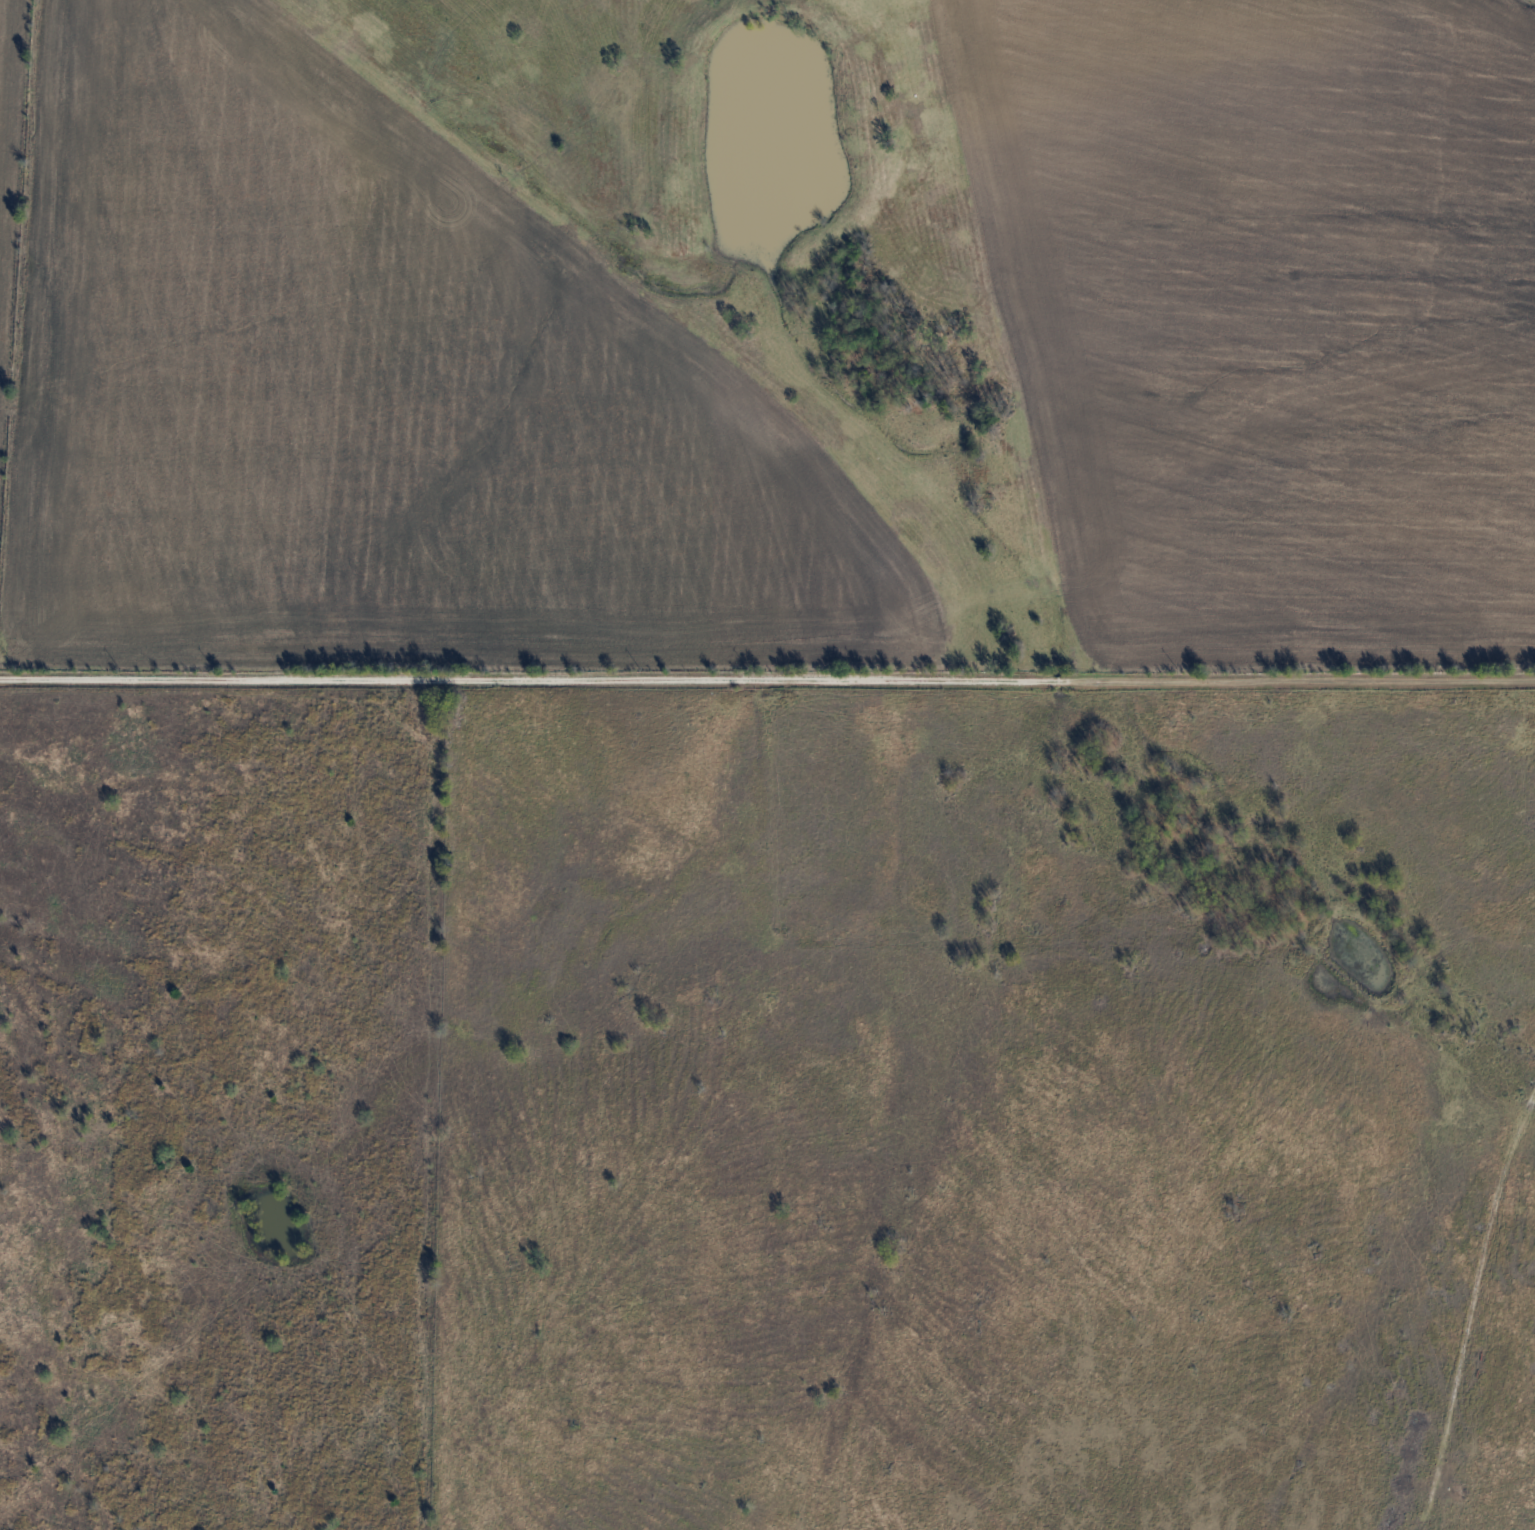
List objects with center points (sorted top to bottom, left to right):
road: (767, 679)

